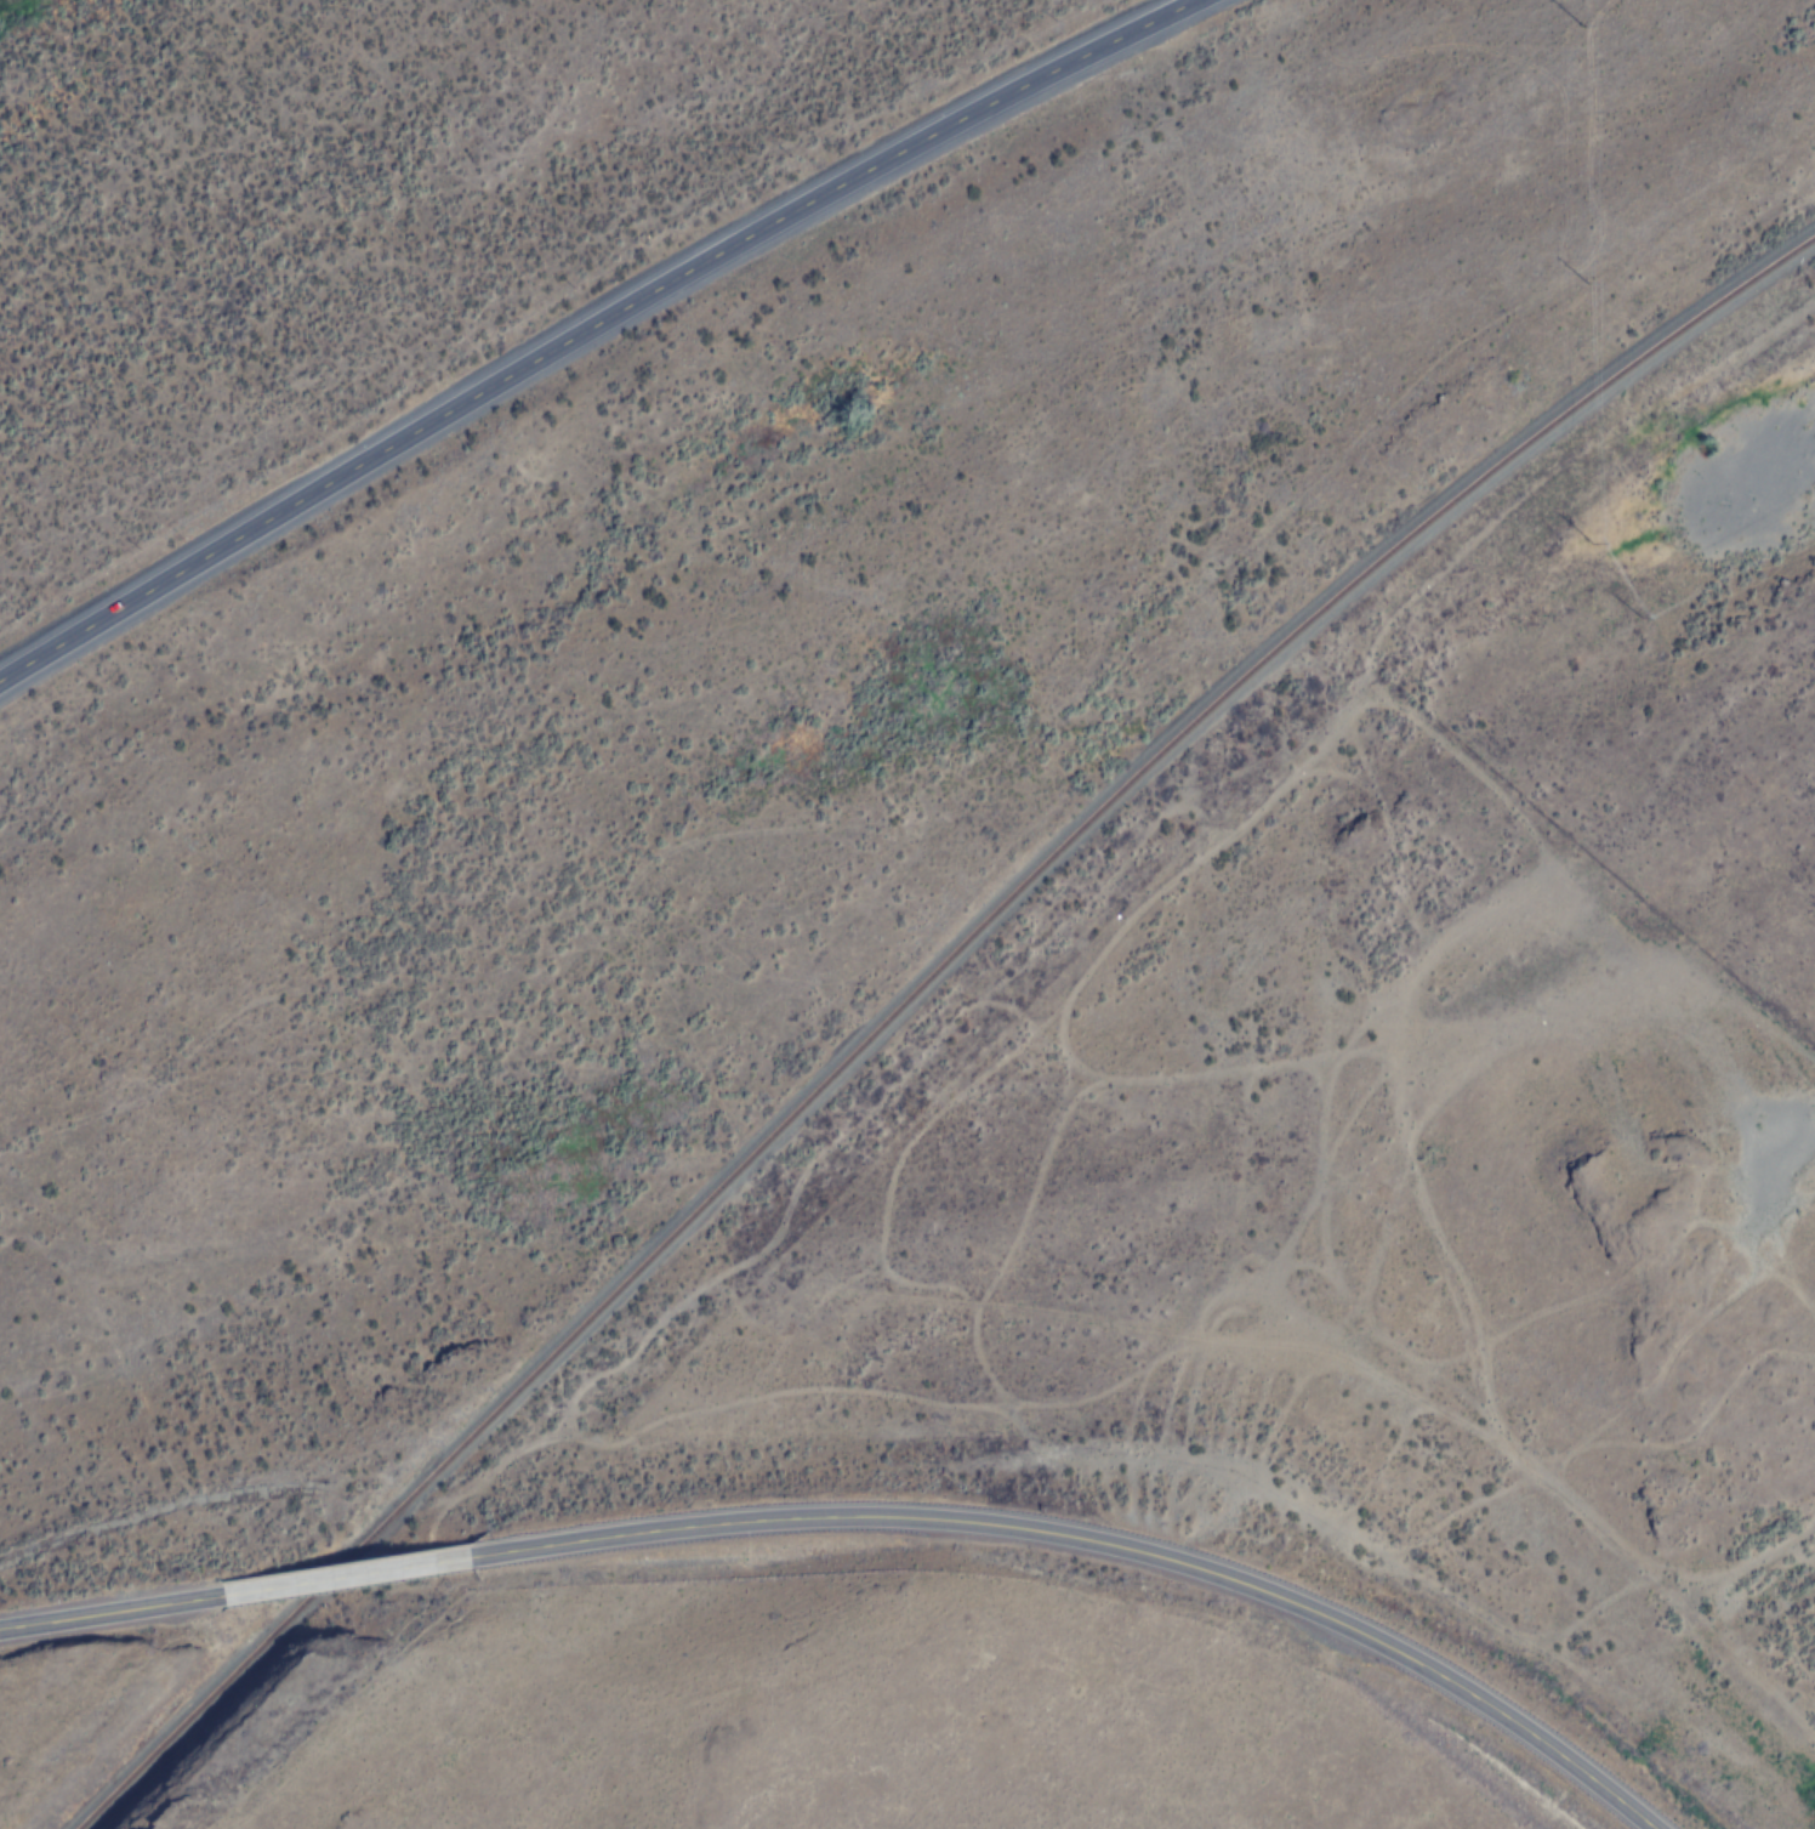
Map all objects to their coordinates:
road: (591, 326)
railway: (911, 996)
road: (1460, 1188)
road: (1003, 1522)
road: (347, 1573)
road: (110, 1608)
road: (1583, 1765)

